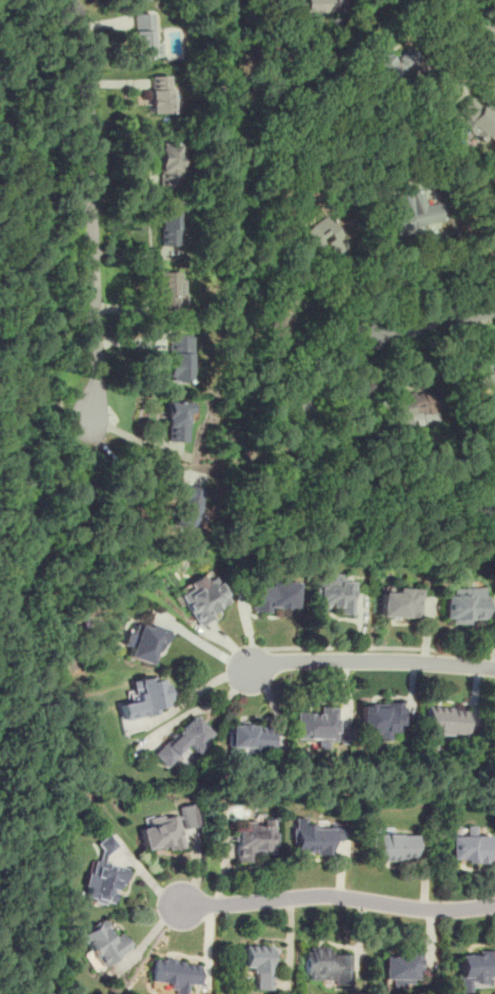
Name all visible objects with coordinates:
building: (315, 6)
road: (471, 18)
building: (142, 36)
building: (388, 65)
building: (160, 94)
building: (475, 117)
building: (168, 166)
road: (90, 207)
building: (413, 214)
building: (167, 224)
building: (317, 237)
road: (457, 268)
building: (165, 289)
building: (279, 316)
road: (433, 322)
building: (178, 357)
building: (485, 388)
building: (414, 408)
building: (176, 421)
road: (125, 468)
building: (187, 507)
building: (331, 592)
building: (273, 595)
building: (203, 599)
building: (398, 602)
building: (463, 604)
building: (141, 642)
road: (379, 648)
road: (364, 662)
building: (143, 697)
road: (187, 697)
building: (379, 719)
building: (442, 723)
building: (492, 725)
building: (317, 726)
building: (249, 740)
building: (182, 741)
building: (166, 829)
building: (315, 837)
building: (252, 839)
building: (394, 847)
building: (468, 847)
building: (102, 875)
road: (333, 896)
building: (103, 943)
road: (146, 951)
building: (257, 964)
building: (326, 965)
building: (402, 965)
building: (474, 968)
building: (175, 974)

